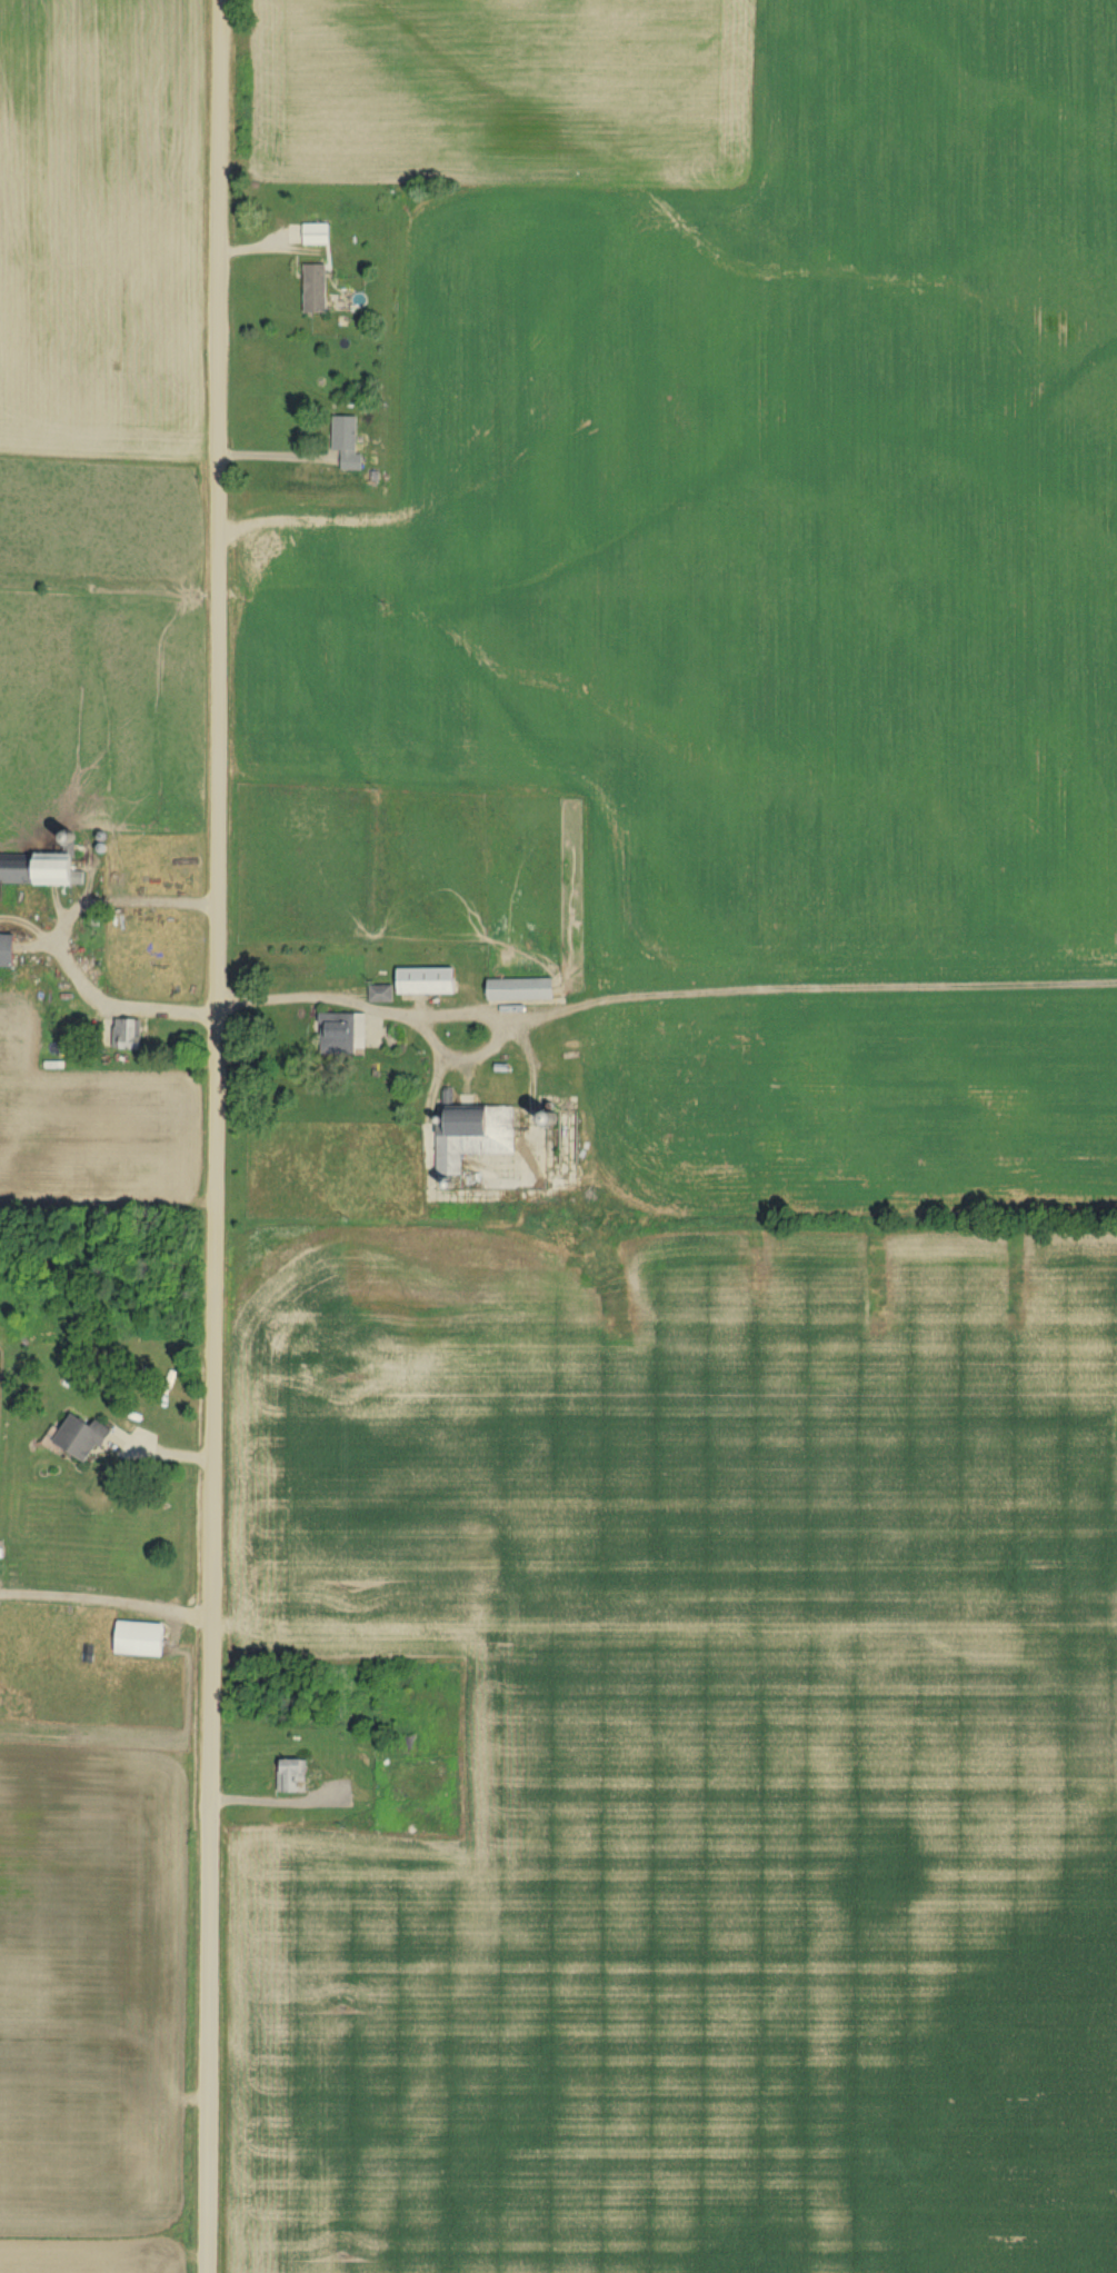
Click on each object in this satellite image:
building: (319, 239)
building: (318, 293)
building: (350, 447)
building: (43, 873)
road: (56, 948)
building: (11, 953)
building: (431, 985)
building: (523, 993)
building: (383, 998)
road: (428, 1010)
building: (132, 1037)
building: (346, 1037)
road: (216, 1136)
building: (476, 1138)
building: (86, 1442)
road: (106, 1603)
building: (146, 1643)
building: (297, 1778)
road: (270, 1806)

